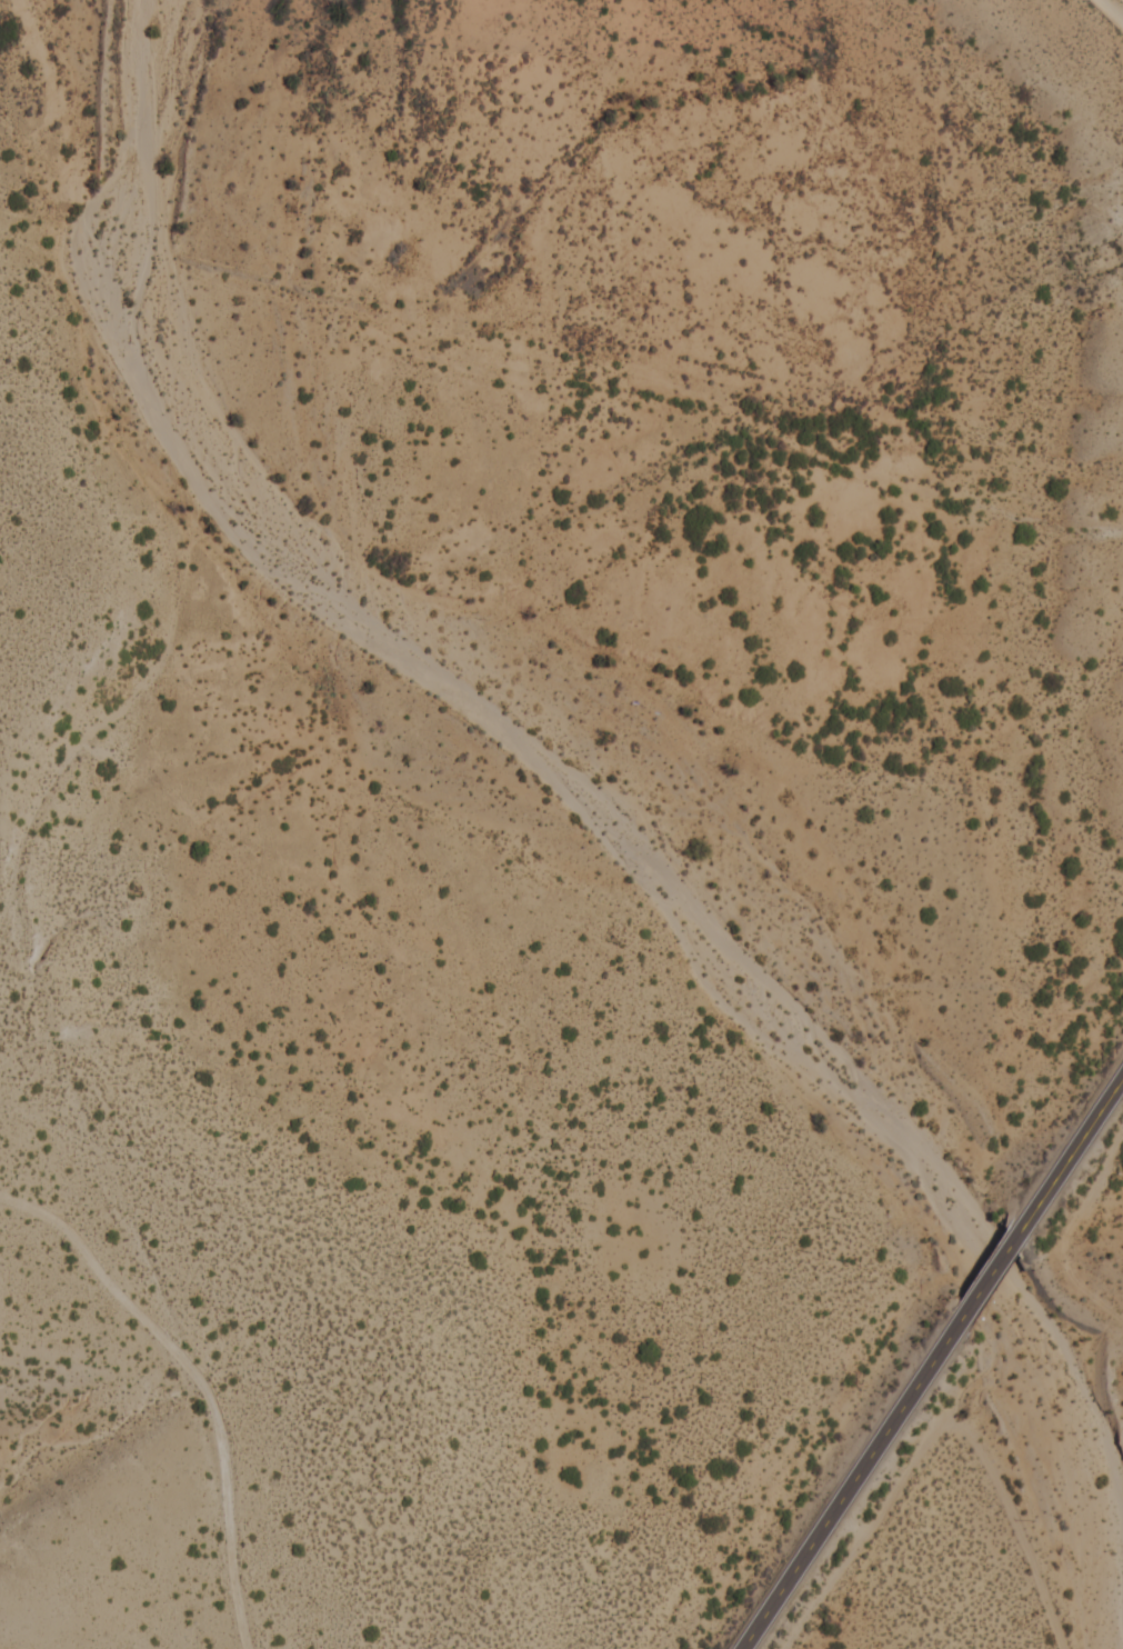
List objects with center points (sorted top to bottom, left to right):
road: (1114, 8)
road: (937, 1365)

